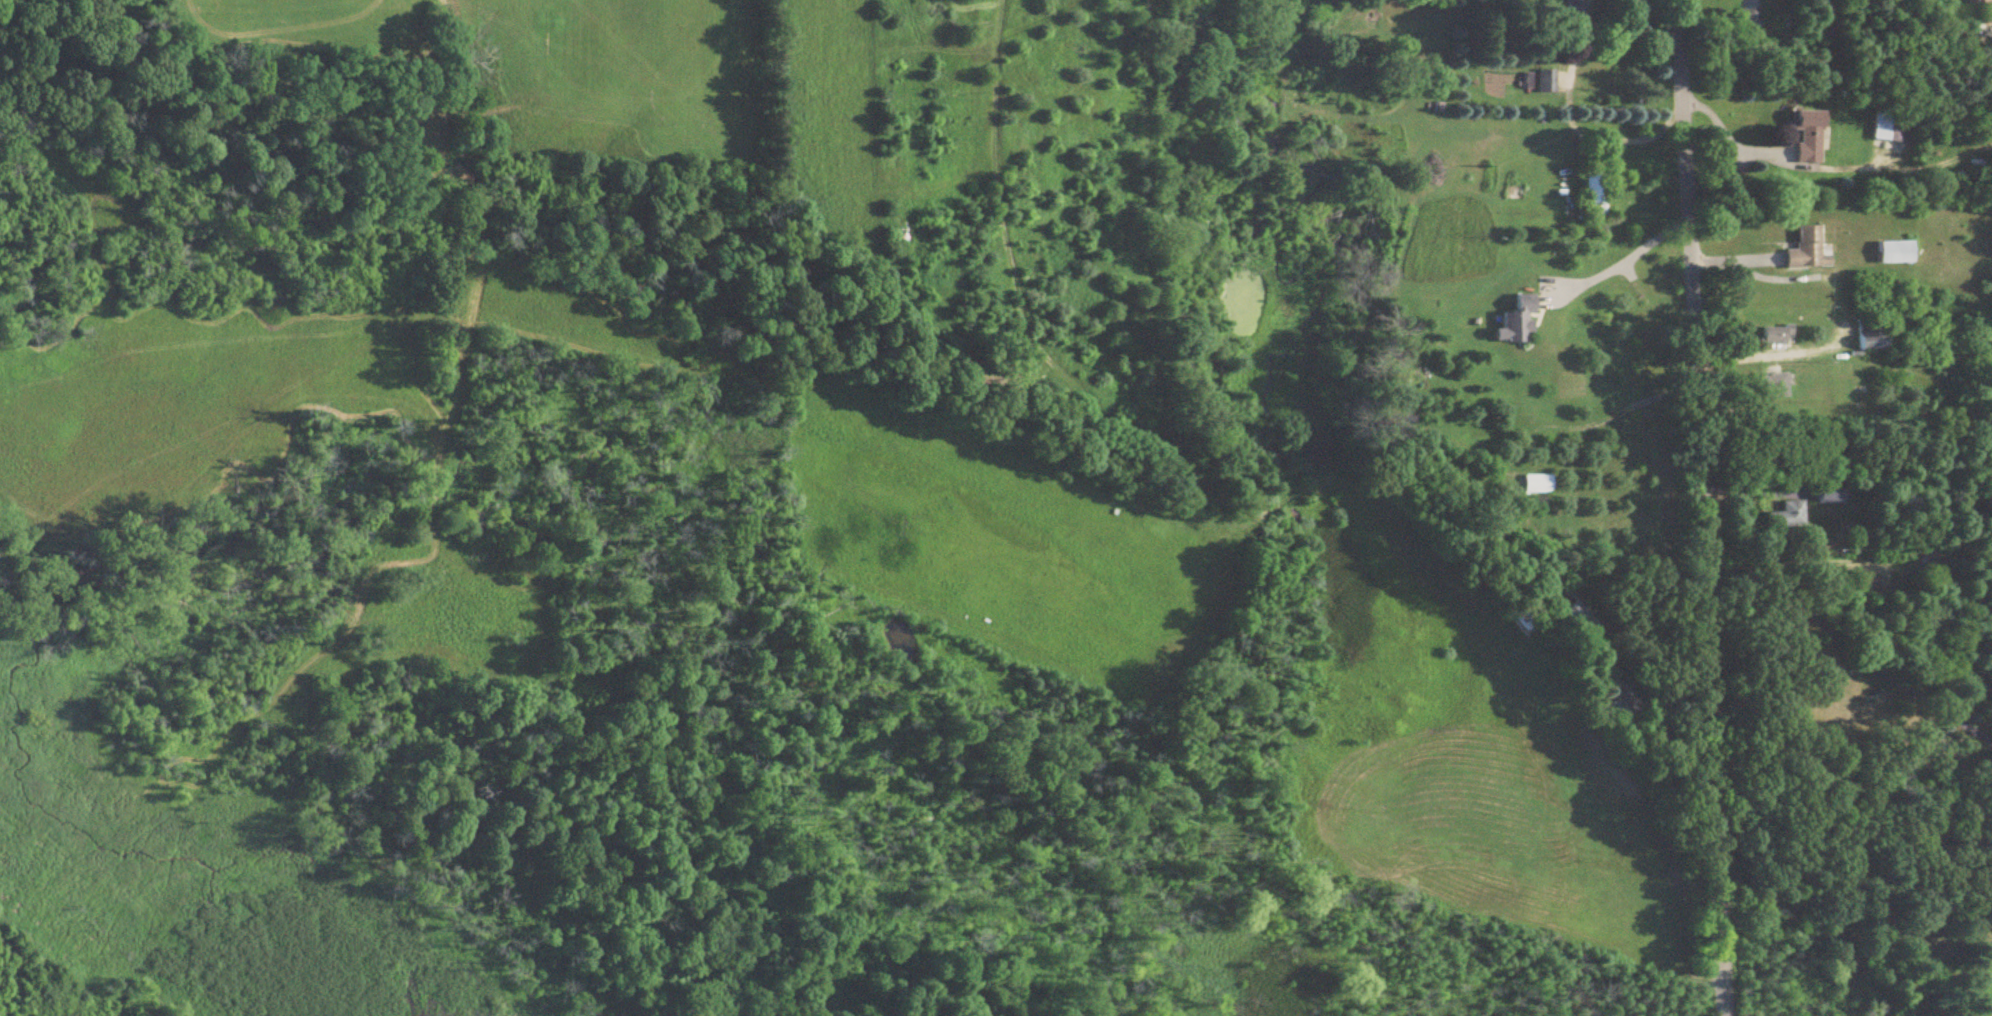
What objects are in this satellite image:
building: (1570, 9)
building: (1976, 12)
building: (1747, 18)
road: (1621, 46)
building: (1544, 82)
building: (1893, 124)
road: (1637, 125)
building: (1804, 136)
road: (1727, 137)
building: (1590, 194)
building: (1804, 252)
building: (1892, 253)
road: (1620, 260)
road: (1844, 309)
building: (1512, 323)
building: (1868, 332)
building: (1774, 336)
building: (1771, 386)
road: (1846, 453)
building: (1534, 484)
road: (1754, 490)
building: (1826, 496)
road: (1702, 507)
building: (1785, 515)
building: (1579, 620)
road: (1847, 648)
road: (1645, 709)
building: (1612, 711)

